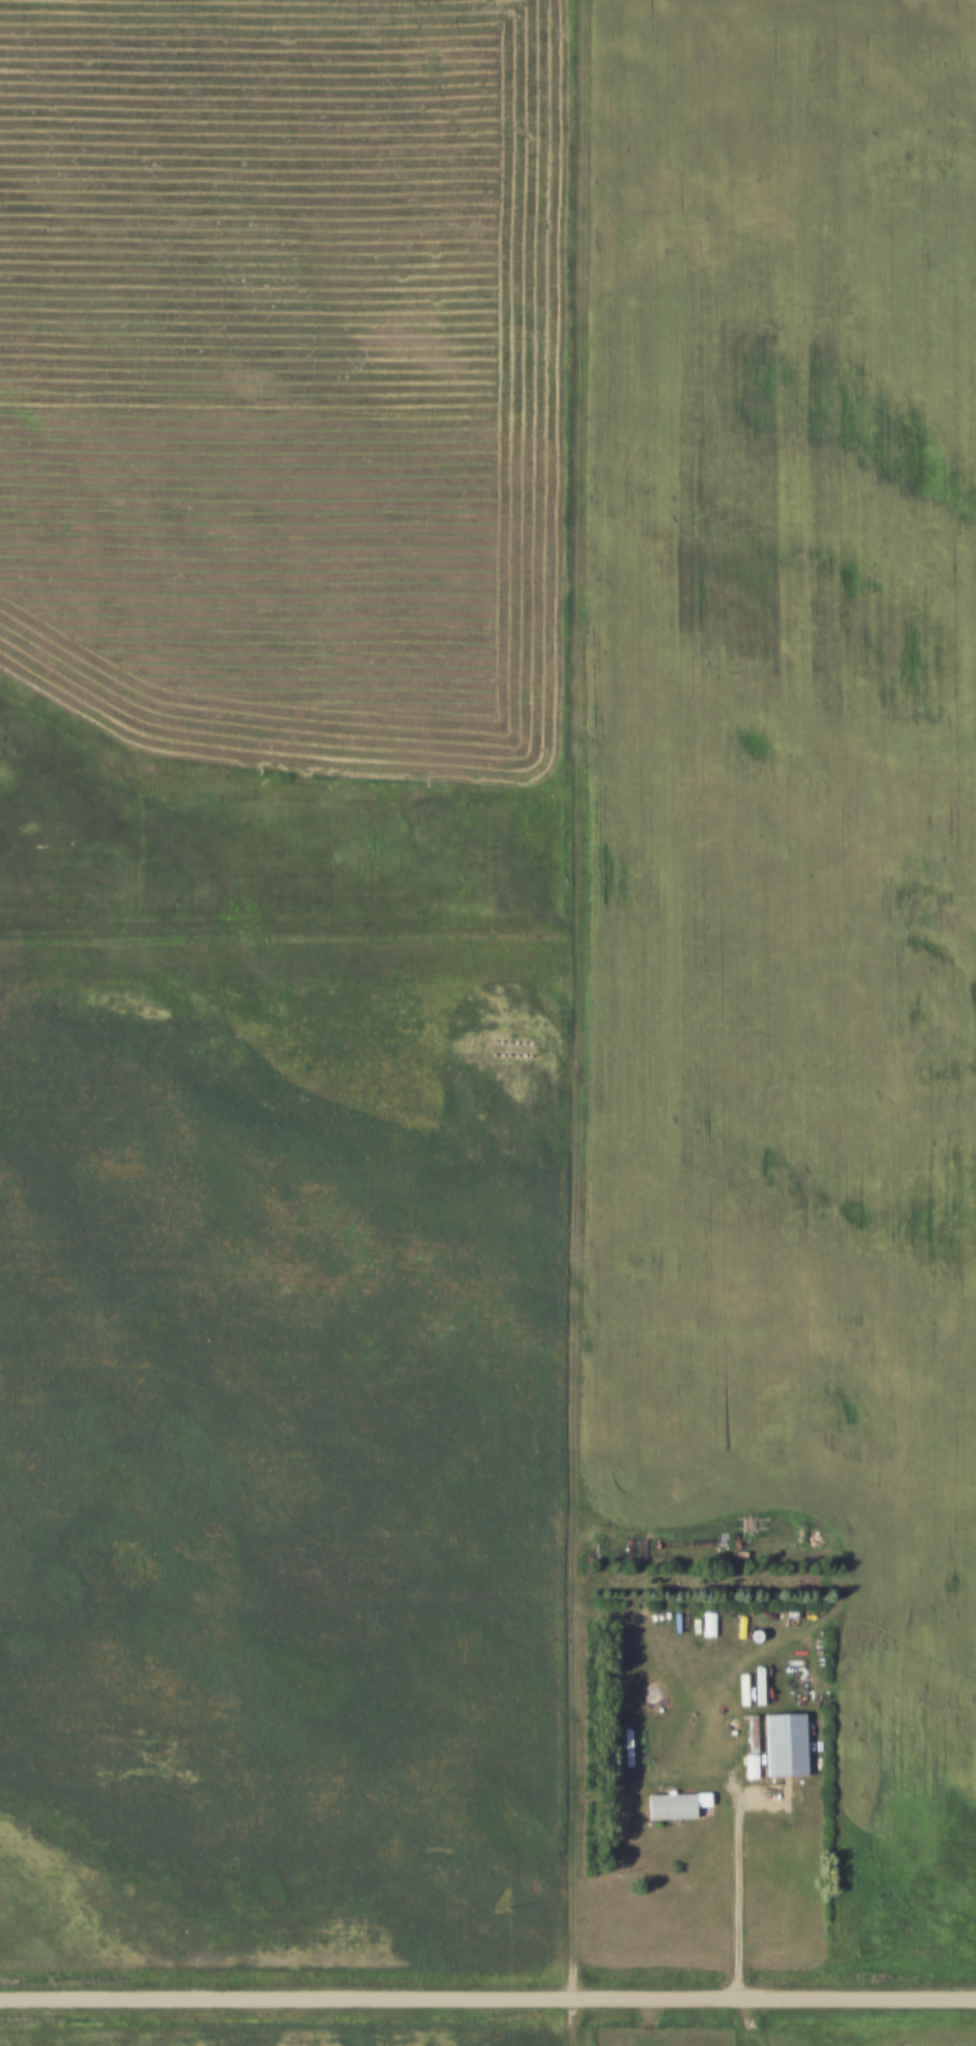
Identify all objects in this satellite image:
road: (284, 932)
road: (569, 1022)
building: (716, 1625)
building: (628, 1739)
building: (784, 1745)
building: (750, 1767)
building: (675, 1806)
road: (738, 1872)
road: (487, 1994)

